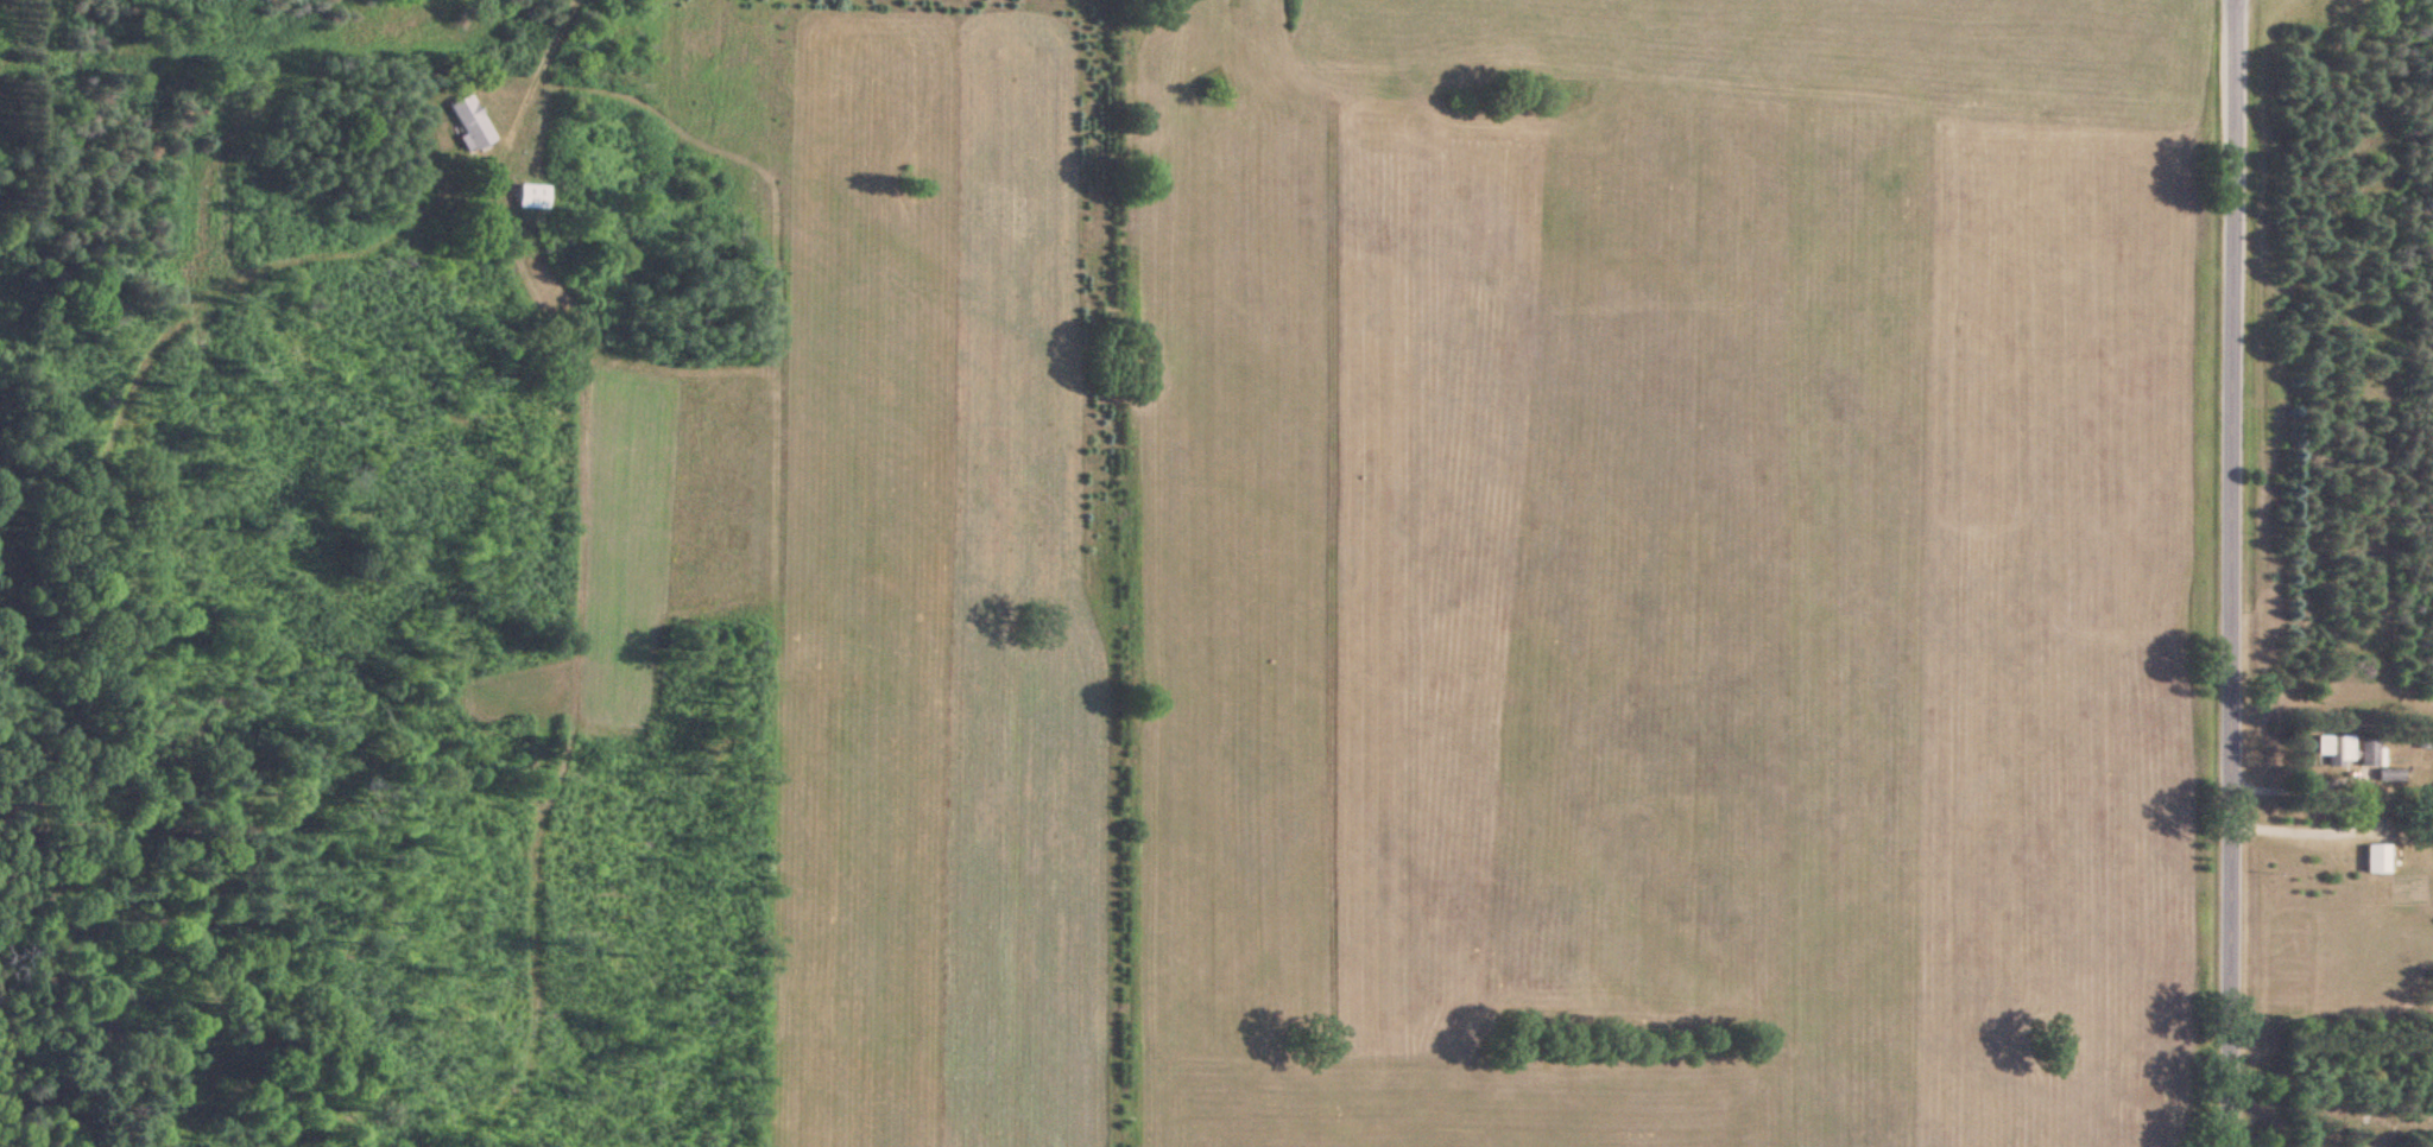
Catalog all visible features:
building: (467, 121)
building: (525, 196)
road: (2218, 572)
building: (2366, 753)
building: (2388, 775)
building: (2374, 858)

